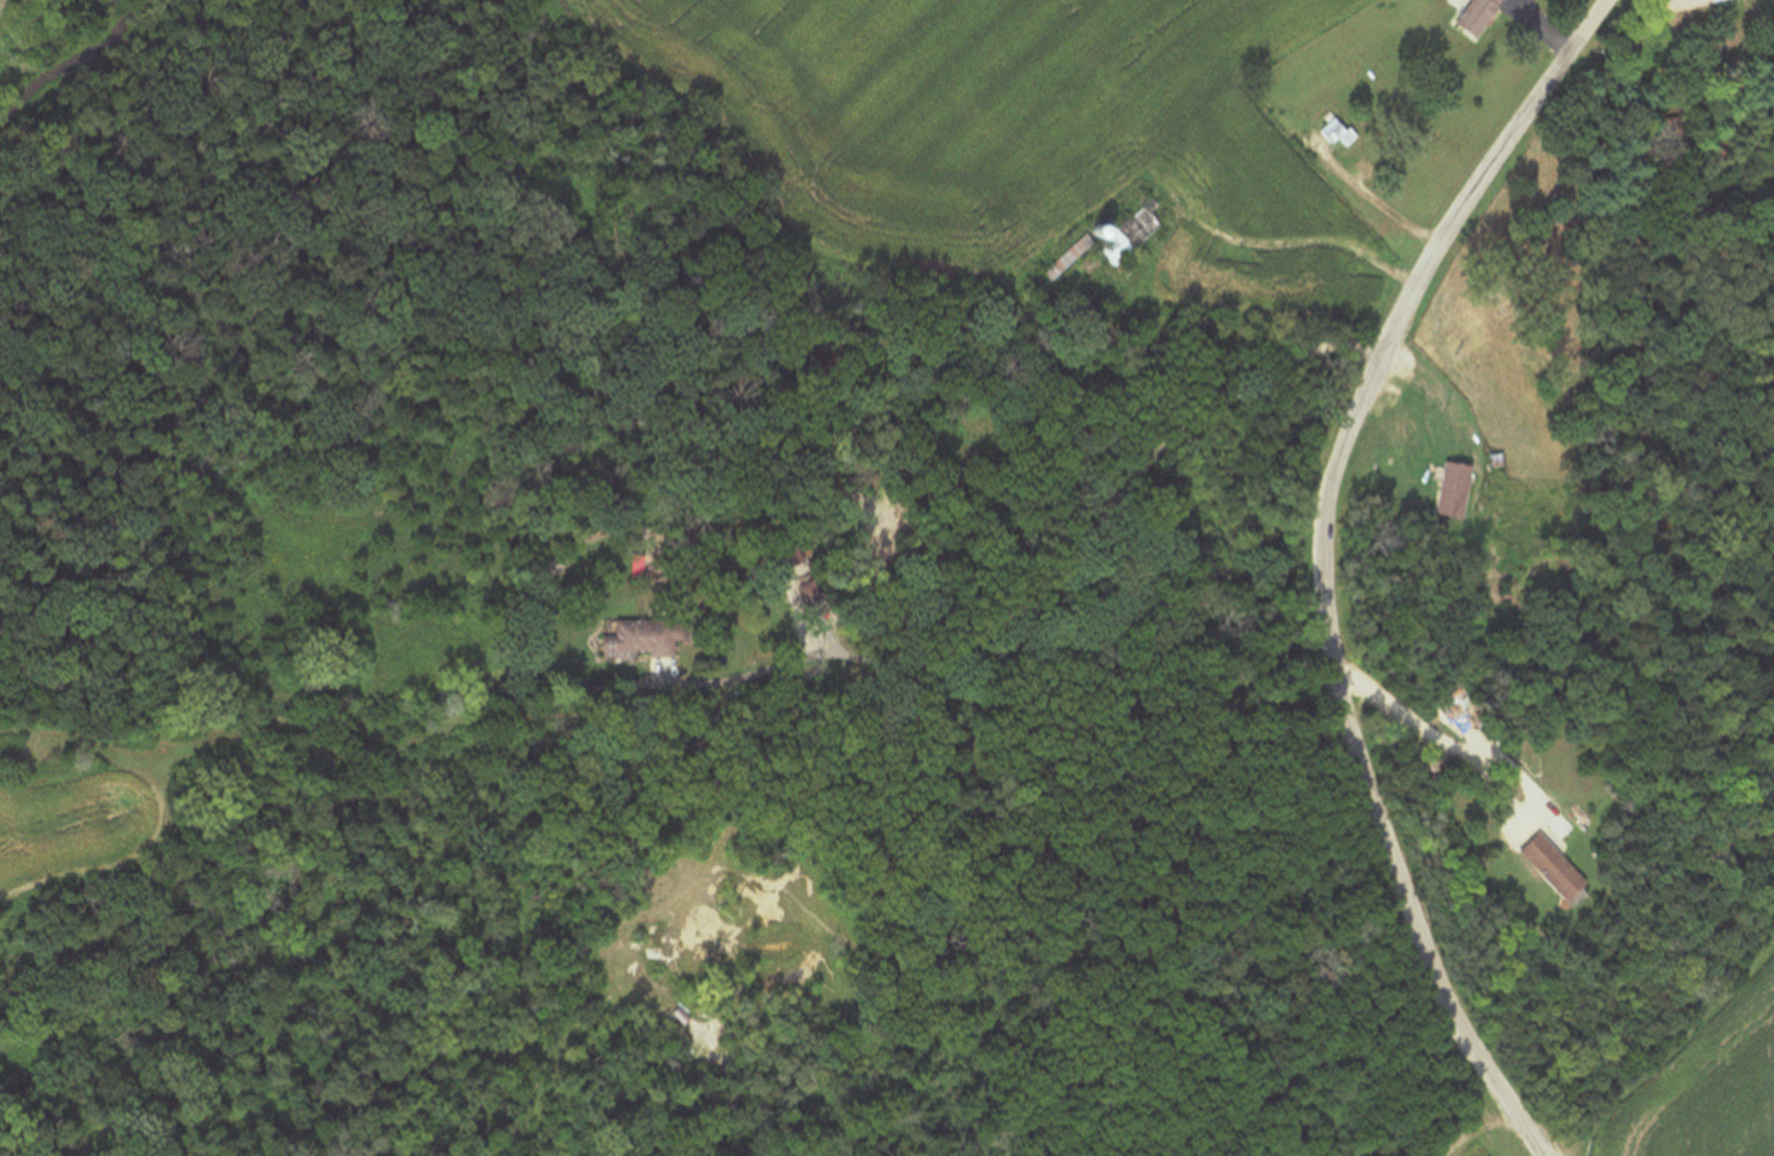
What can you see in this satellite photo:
building: (1480, 16)
building: (1654, 53)
building: (1295, 130)
building: (1338, 133)
building: (1133, 236)
building: (1074, 255)
building: (1459, 489)
road: (1327, 562)
road: (1061, 584)
building: (645, 643)
building: (1557, 871)

